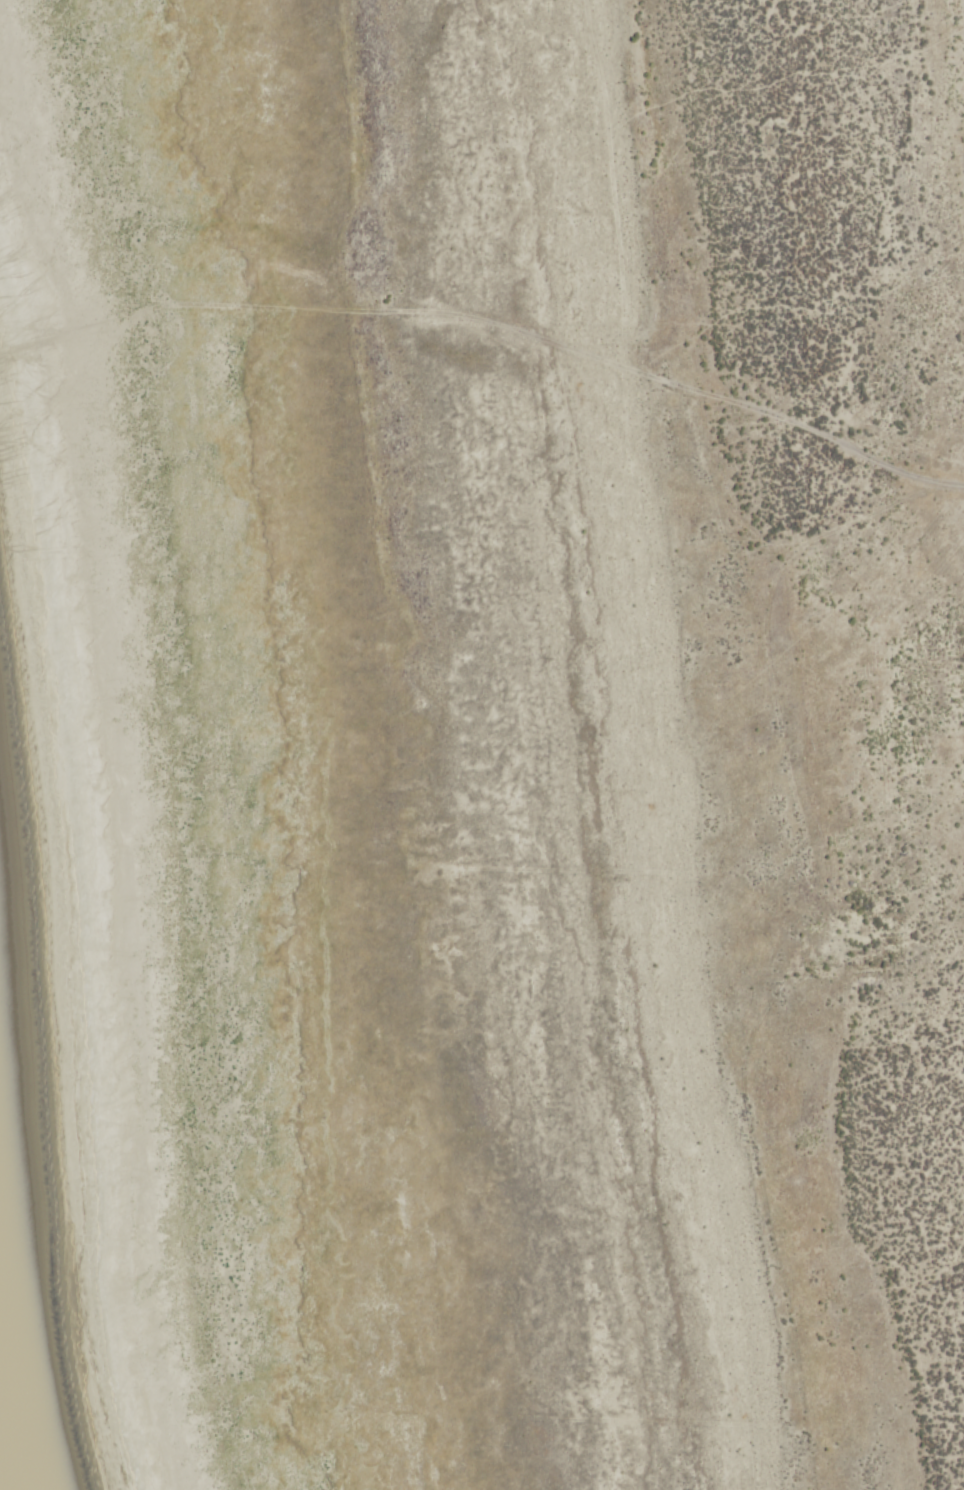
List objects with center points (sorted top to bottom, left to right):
road: (868, 444)
road: (815, 974)

